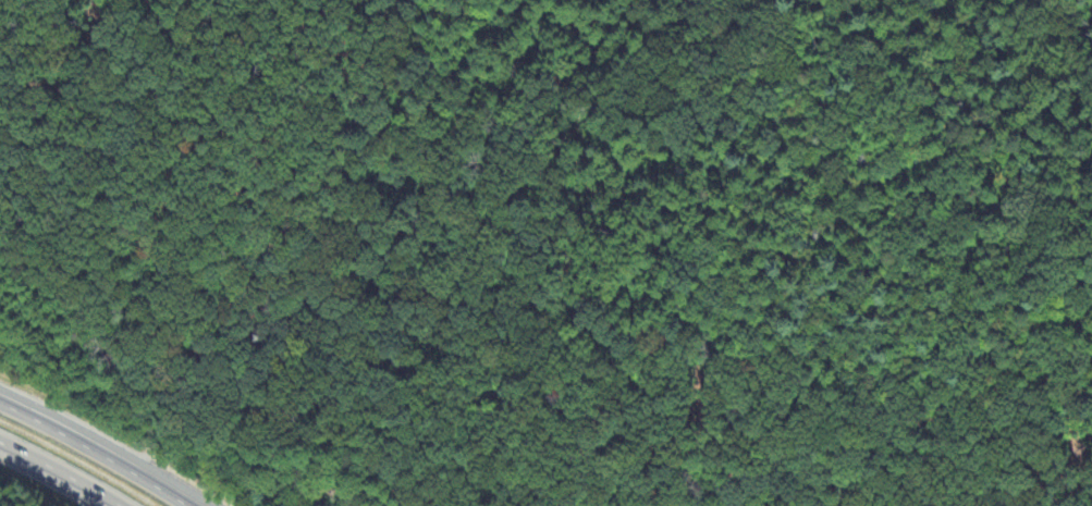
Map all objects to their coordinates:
road: (95, 455)
road: (61, 470)

